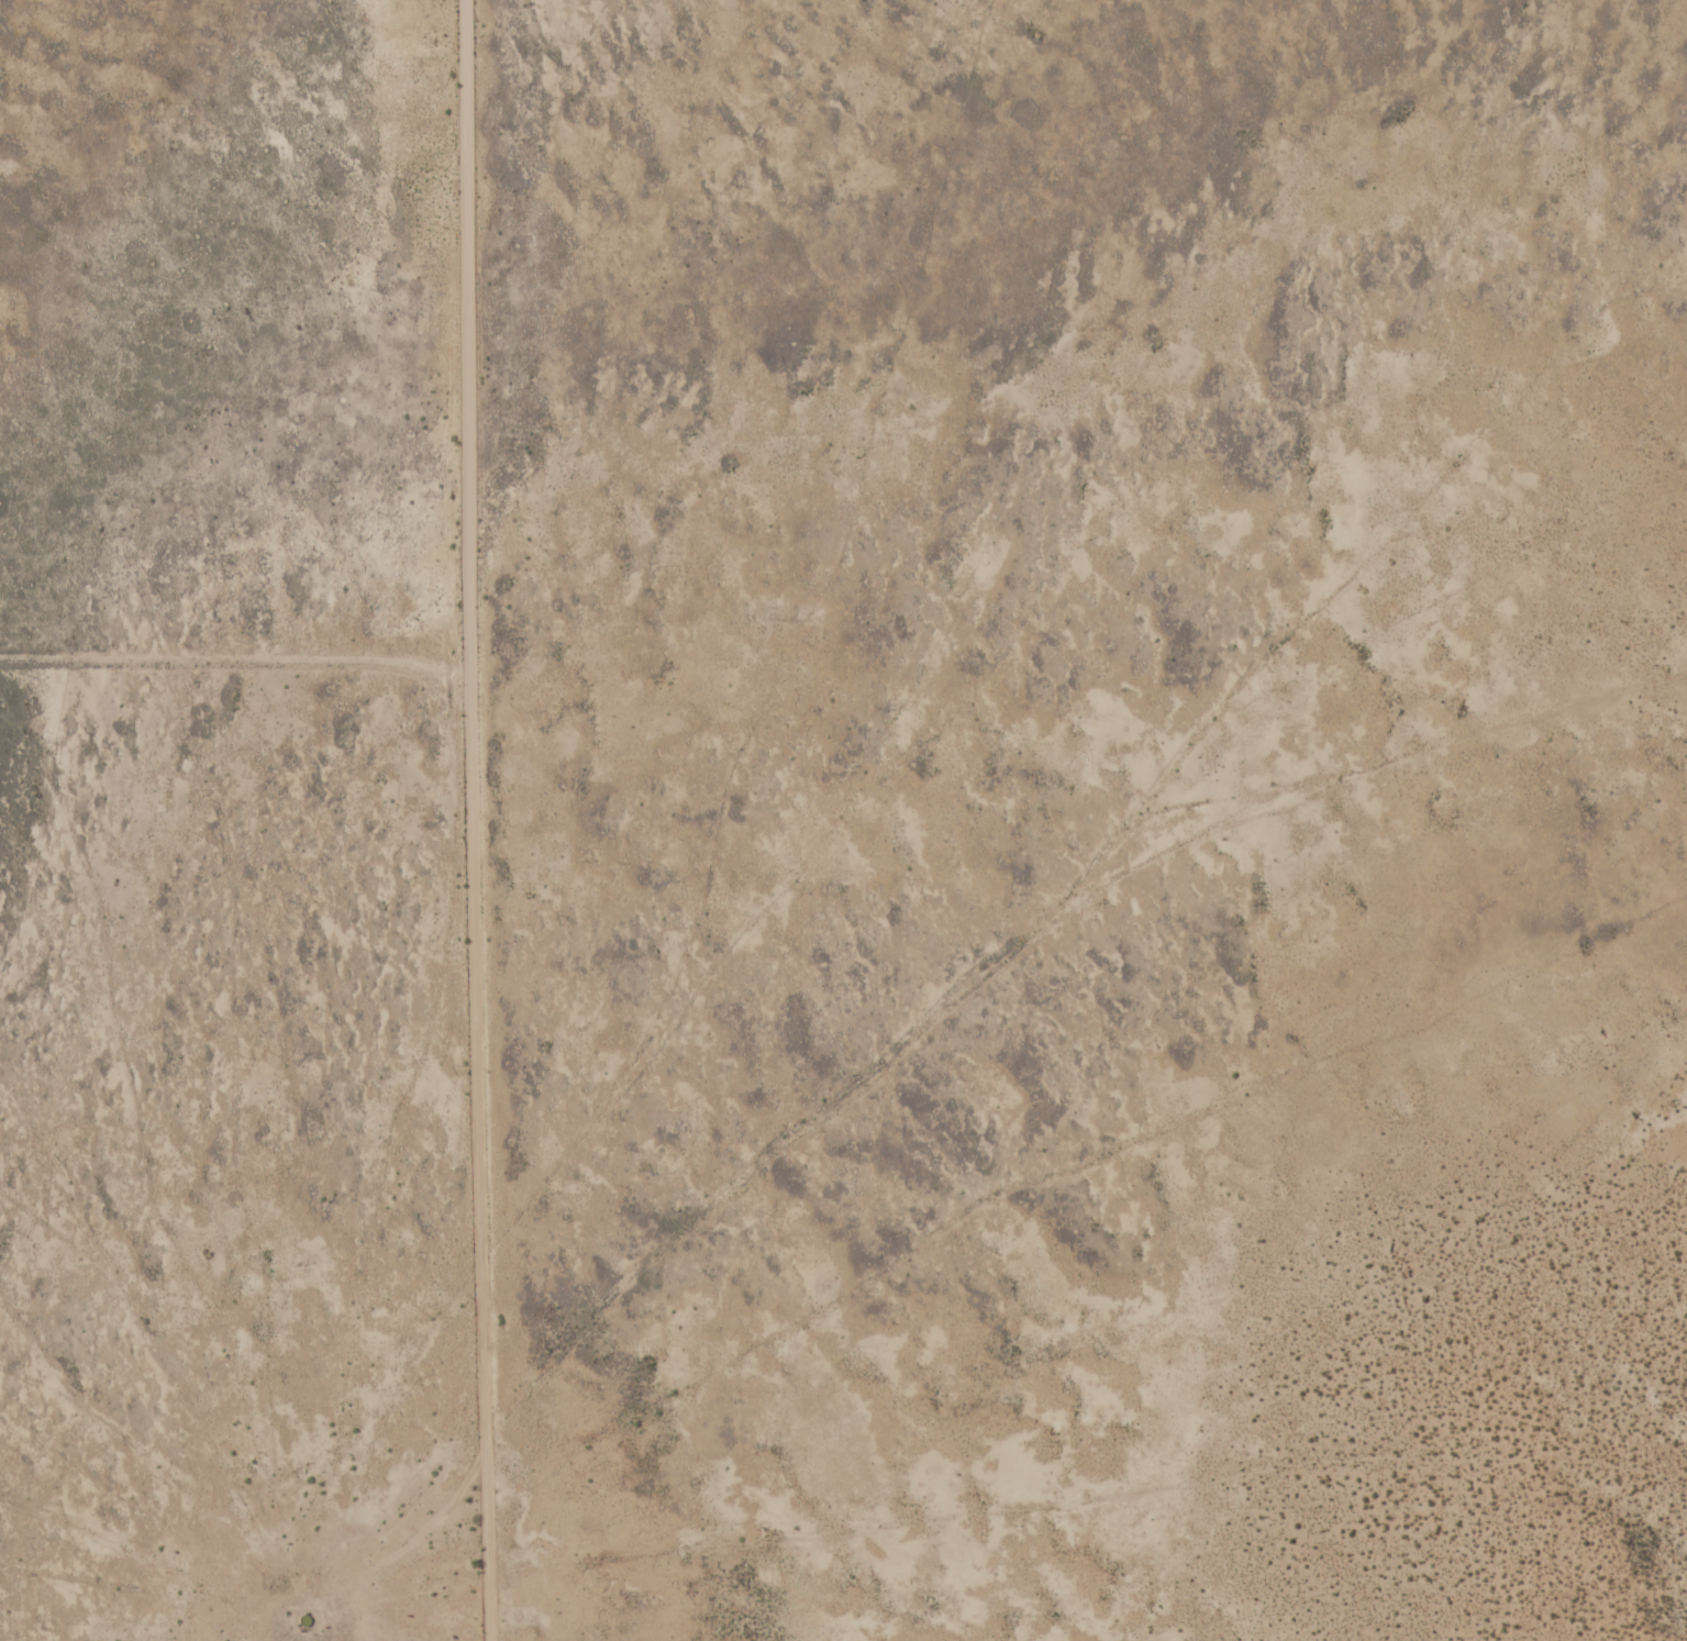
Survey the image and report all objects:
road: (463, 820)

